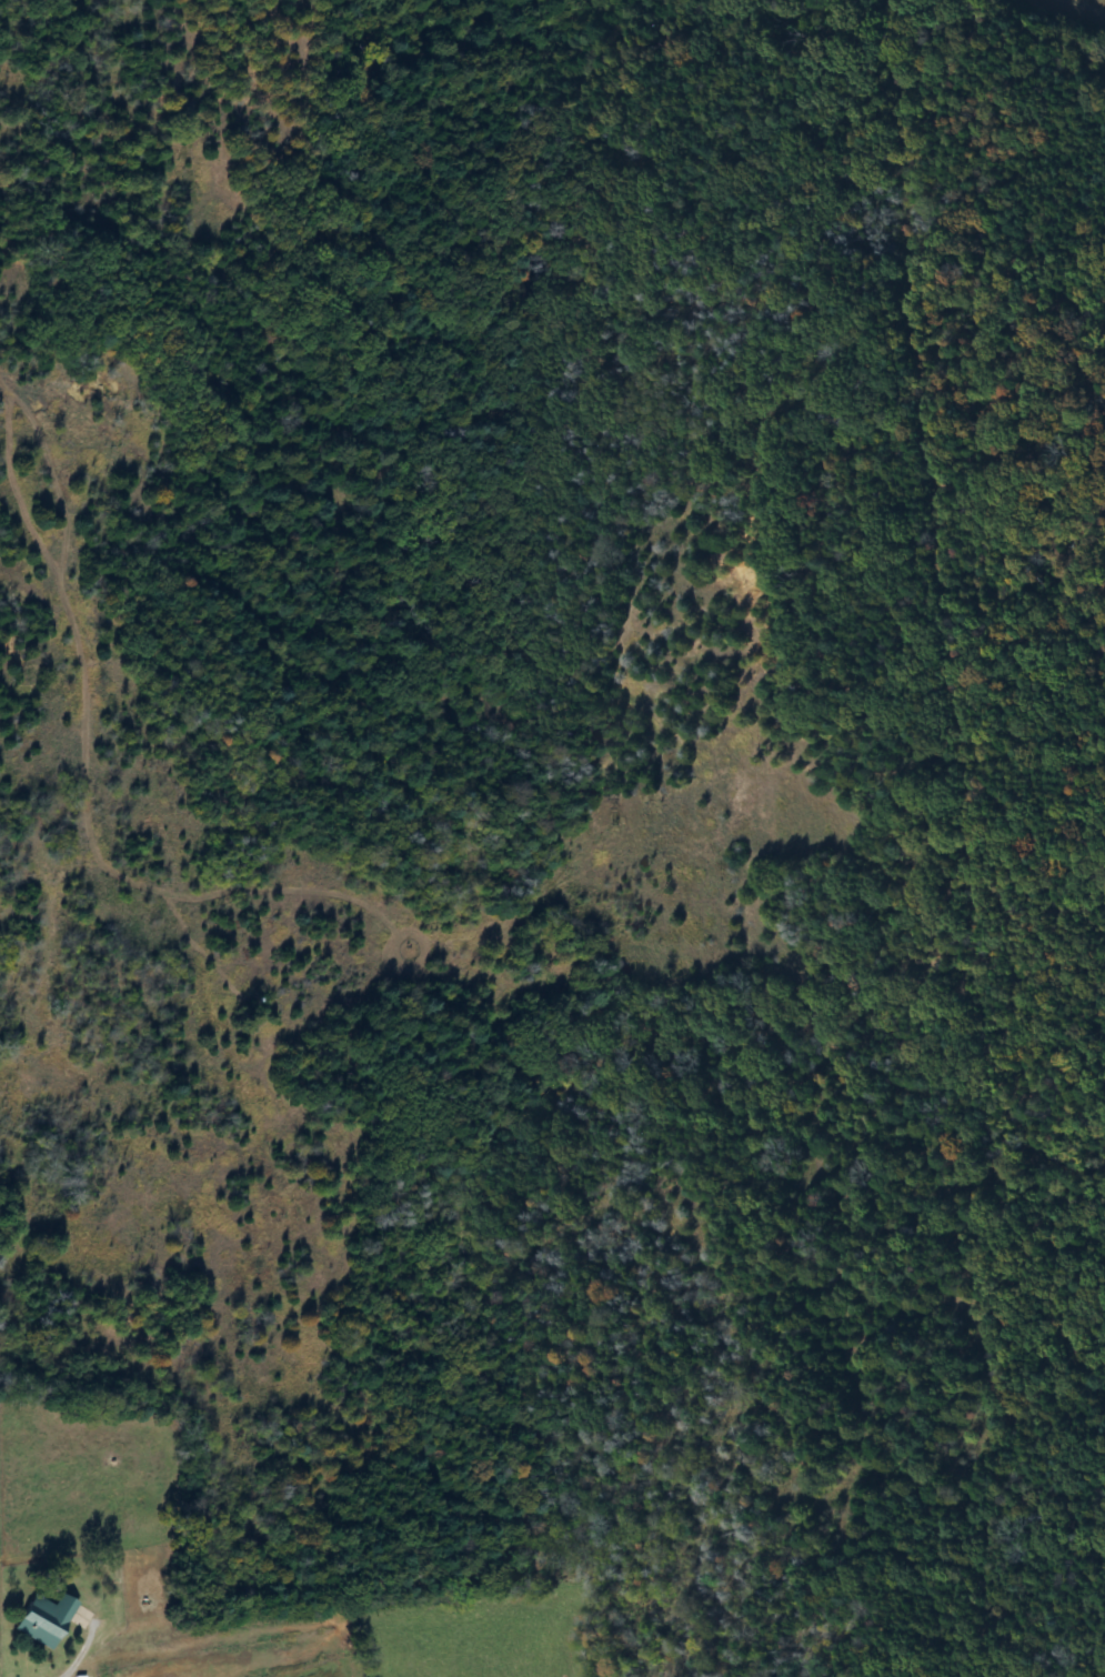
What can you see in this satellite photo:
building: (41, 1620)
road: (81, 1654)

